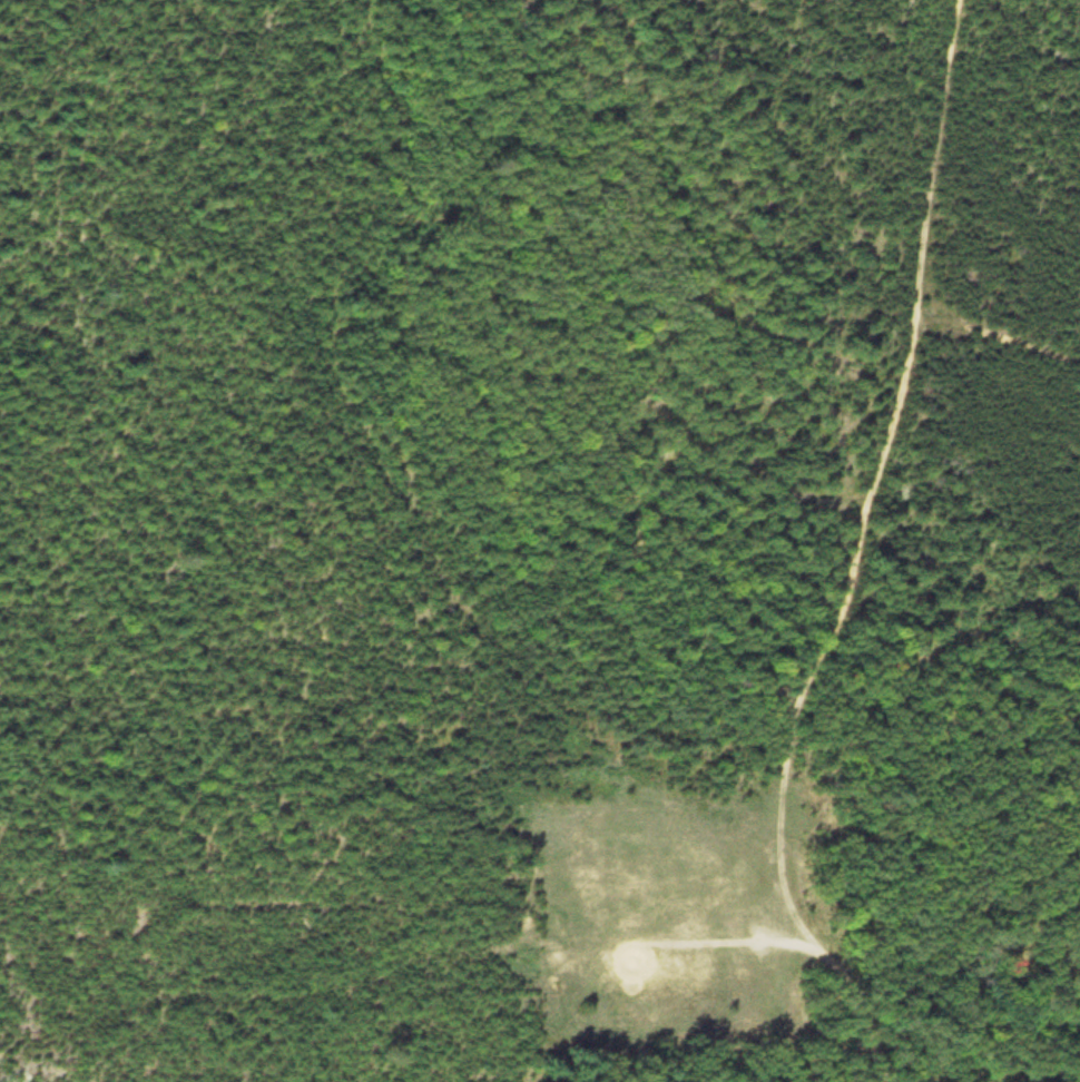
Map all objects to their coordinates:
road: (999, 329)
road: (855, 552)

